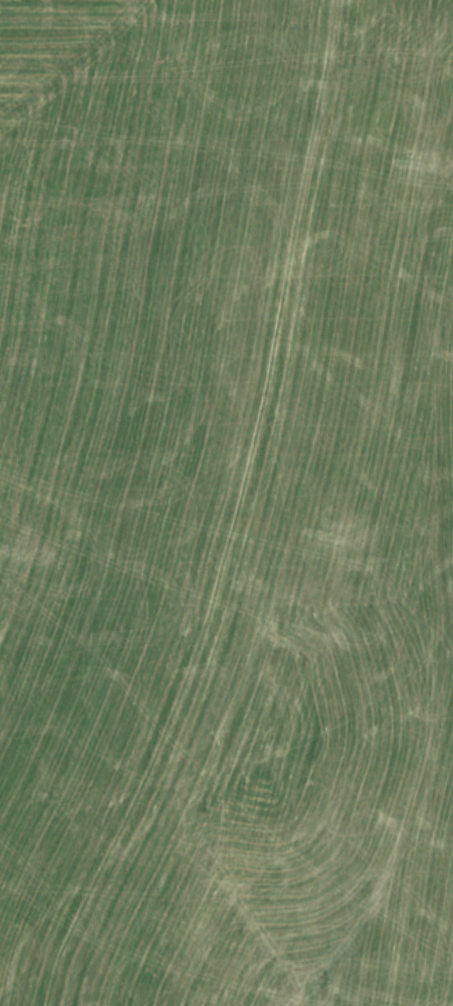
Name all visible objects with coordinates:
crop: (226, 503)

